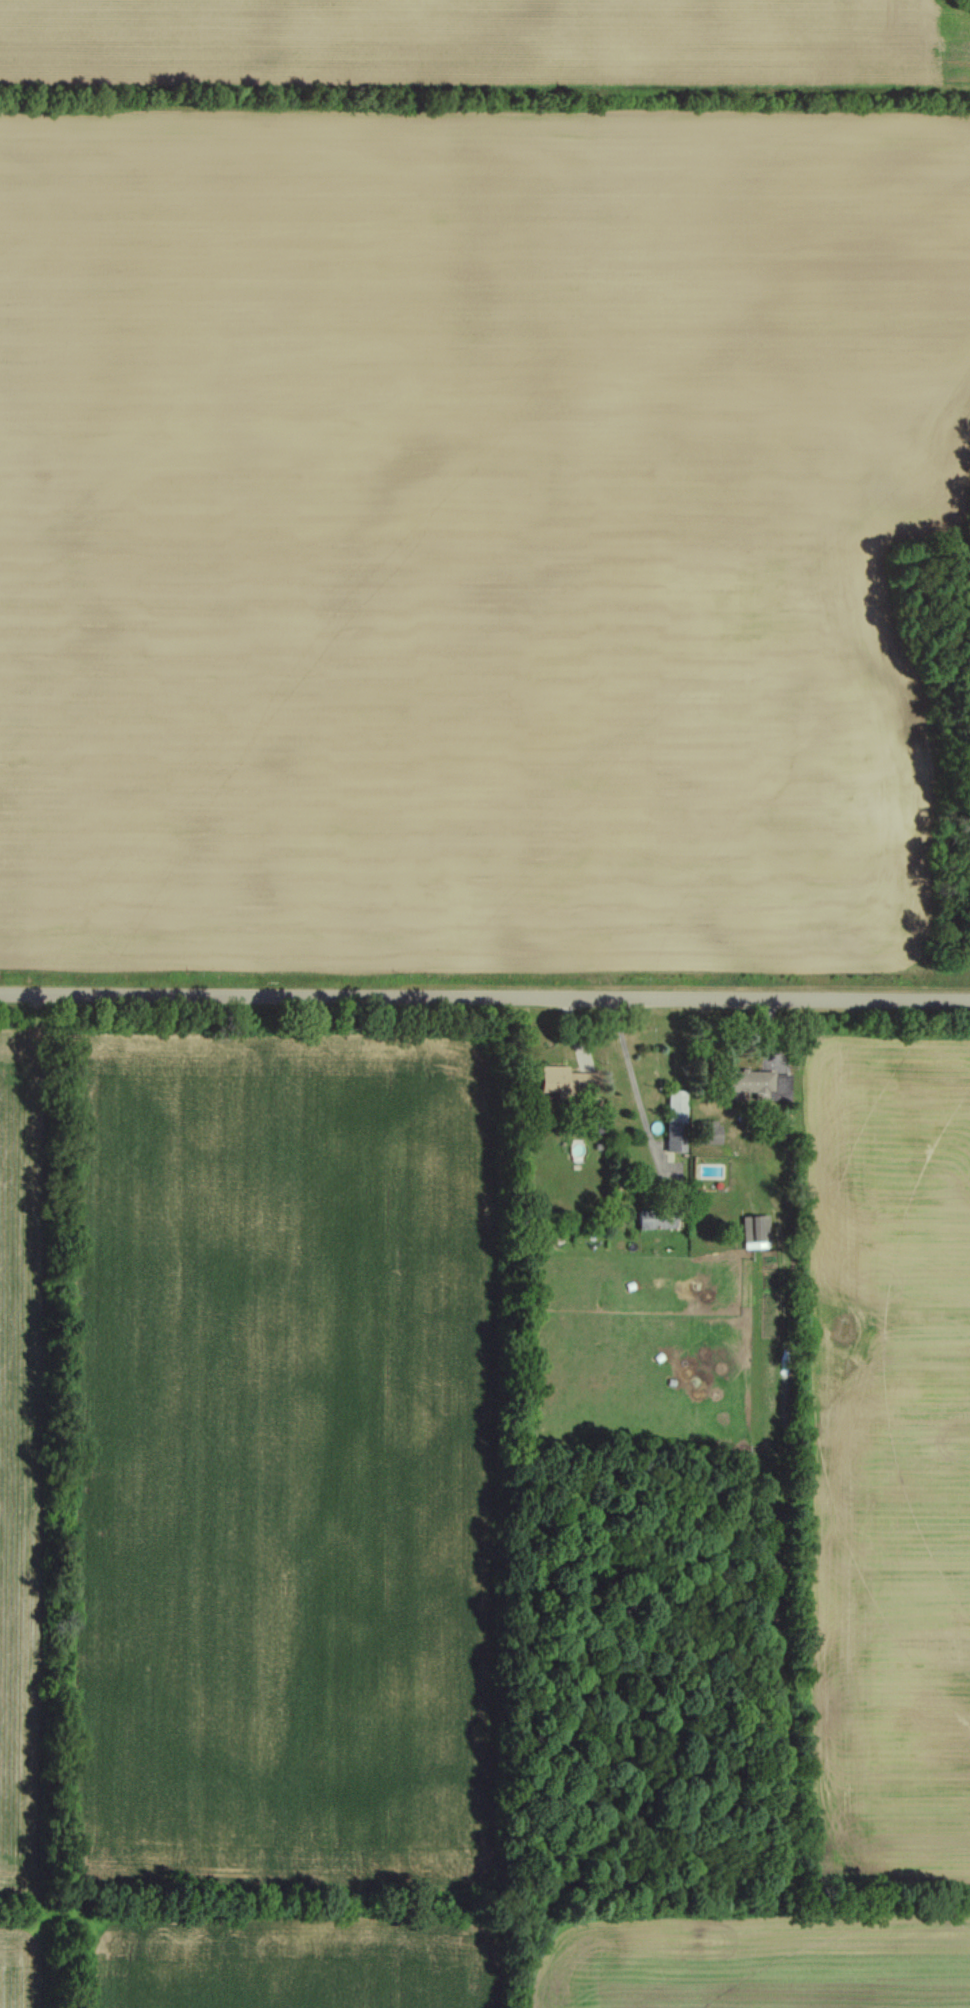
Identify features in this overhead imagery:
road: (485, 999)
road: (634, 1083)
building: (556, 1084)
building: (747, 1088)
building: (674, 1121)
building: (701, 1138)
building: (665, 1144)
building: (575, 1152)
building: (658, 1221)
building: (750, 1235)

